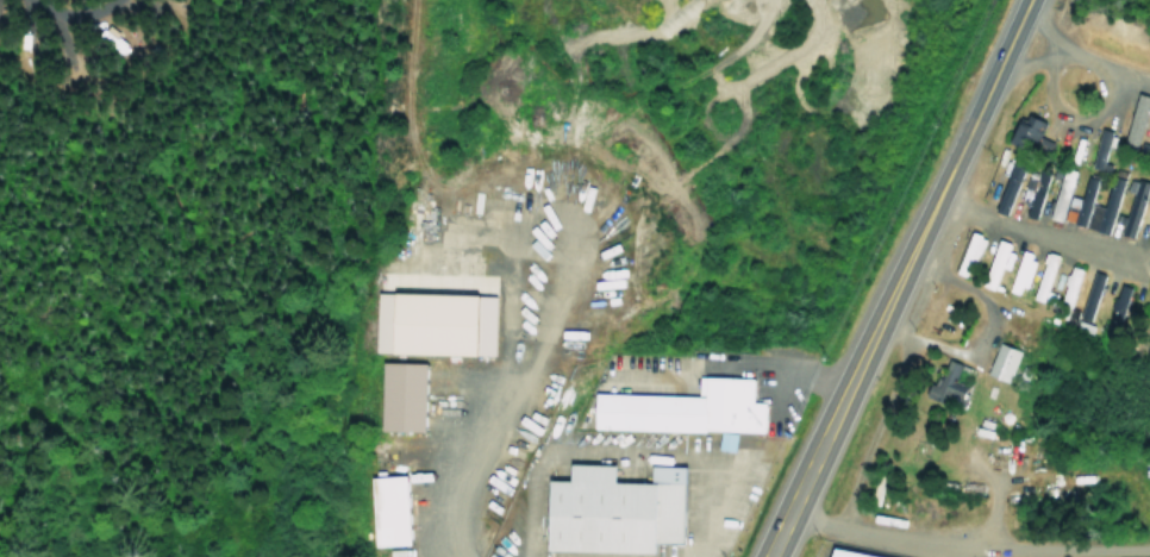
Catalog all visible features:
road: (70, 10)
road: (11, 18)
road: (1077, 54)
road: (1029, 63)
building: (1135, 117)
road: (1057, 119)
building: (1026, 131)
building: (1149, 137)
building: (1096, 148)
building: (1149, 165)
building: (1007, 184)
building: (1031, 190)
building: (1057, 194)
building: (1083, 206)
building: (1131, 206)
building: (1148, 230)
road: (1035, 233)
road: (220, 239)
building: (968, 254)
building: (996, 259)
road: (510, 264)
building: (1018, 270)
building: (1043, 275)
road: (893, 277)
building: (1068, 284)
building: (1088, 293)
building: (1115, 303)
building: (438, 320)
road: (979, 336)
building: (1001, 359)
building: (948, 380)
building: (402, 394)
building: (683, 405)
building: (726, 440)
building: (390, 508)
building: (612, 511)
road: (965, 545)
building: (848, 553)

